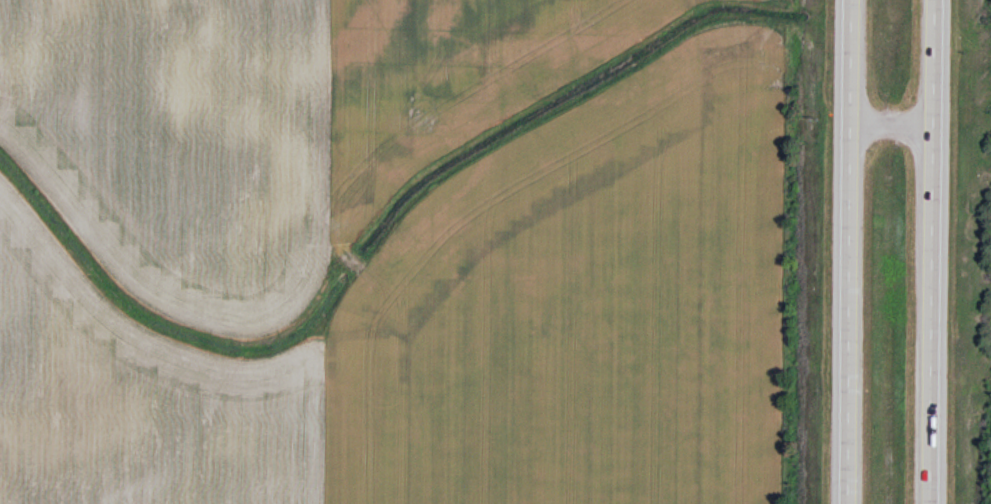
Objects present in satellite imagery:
road: (895, 124)
road: (849, 252)
road: (935, 252)

